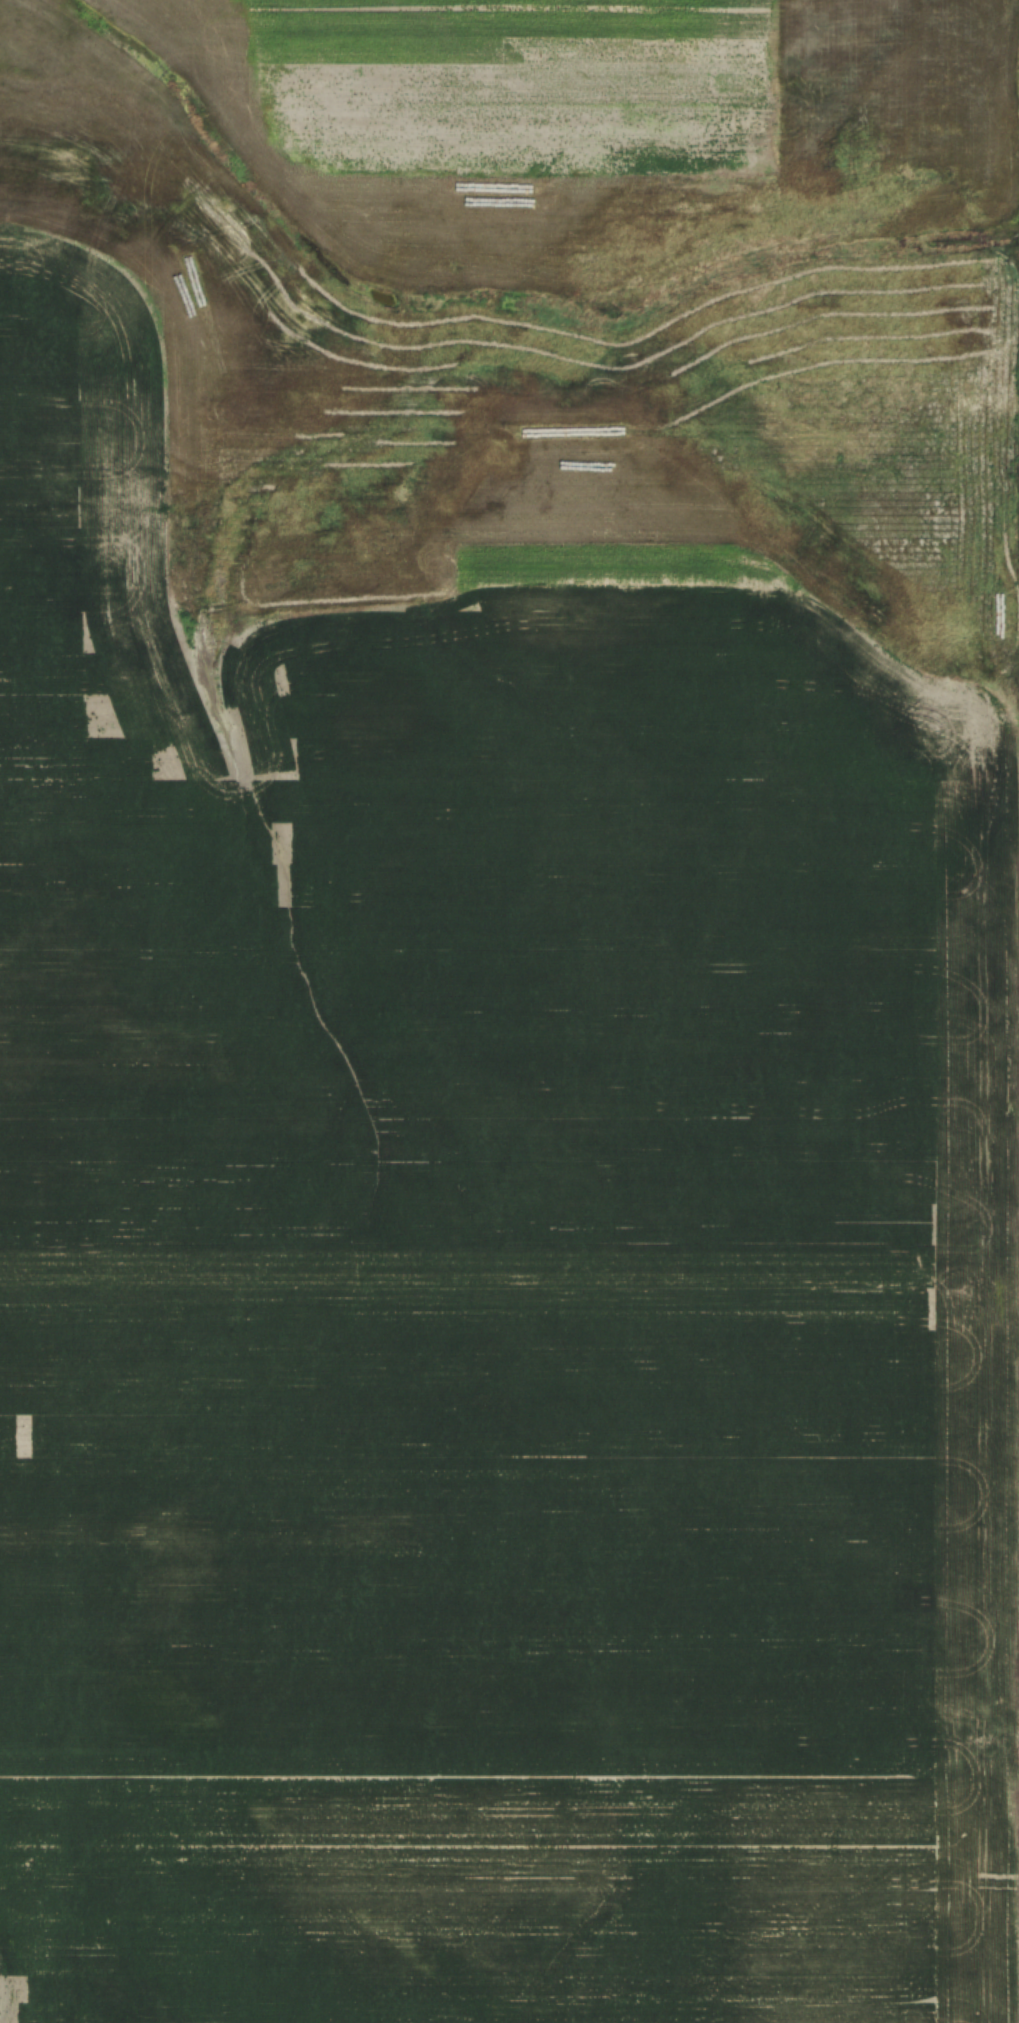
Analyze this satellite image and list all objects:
building: (1016, 760)

